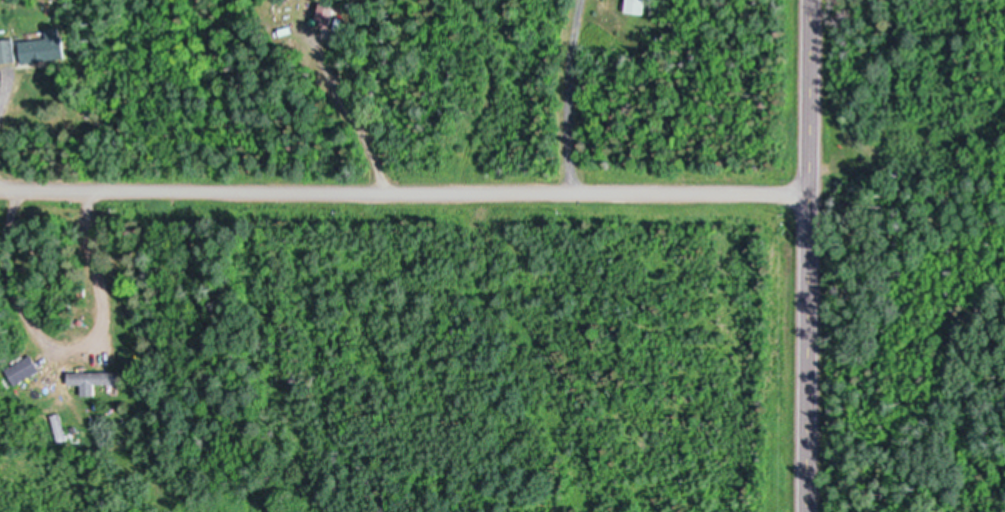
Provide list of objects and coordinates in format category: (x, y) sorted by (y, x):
building: (330, 2)
building: (634, 6)
building: (325, 16)
building: (44, 48)
building: (7, 51)
road: (3, 95)
road: (567, 96)
building: (91, 104)
road: (359, 129)
road: (403, 194)
road: (806, 256)
road: (63, 350)
building: (23, 370)
building: (92, 378)
building: (57, 424)
building: (70, 424)

